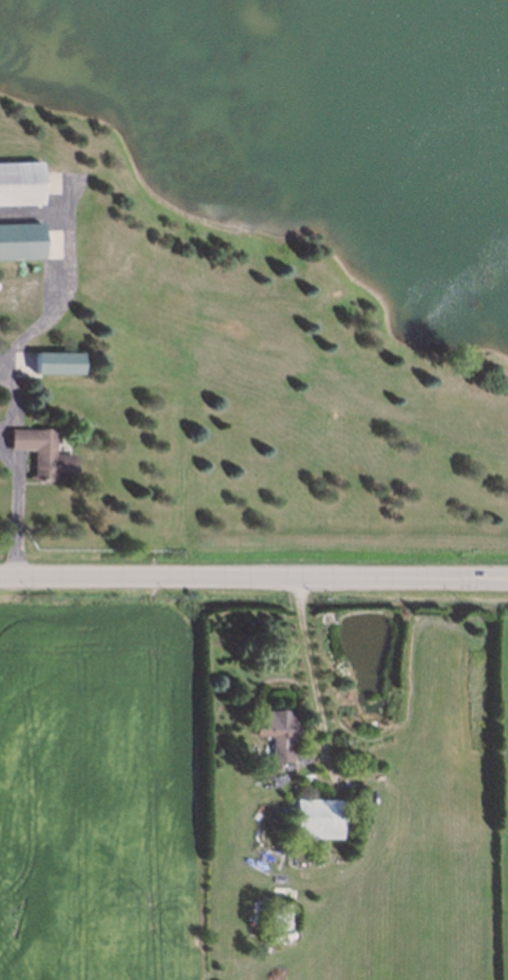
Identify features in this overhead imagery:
building: (19, 184)
building: (20, 241)
building: (58, 362)
building: (40, 452)
road: (15, 472)
road: (461, 576)
road: (207, 577)
road: (461, 580)
road: (313, 675)
building: (271, 730)
building: (313, 816)
building: (274, 912)

